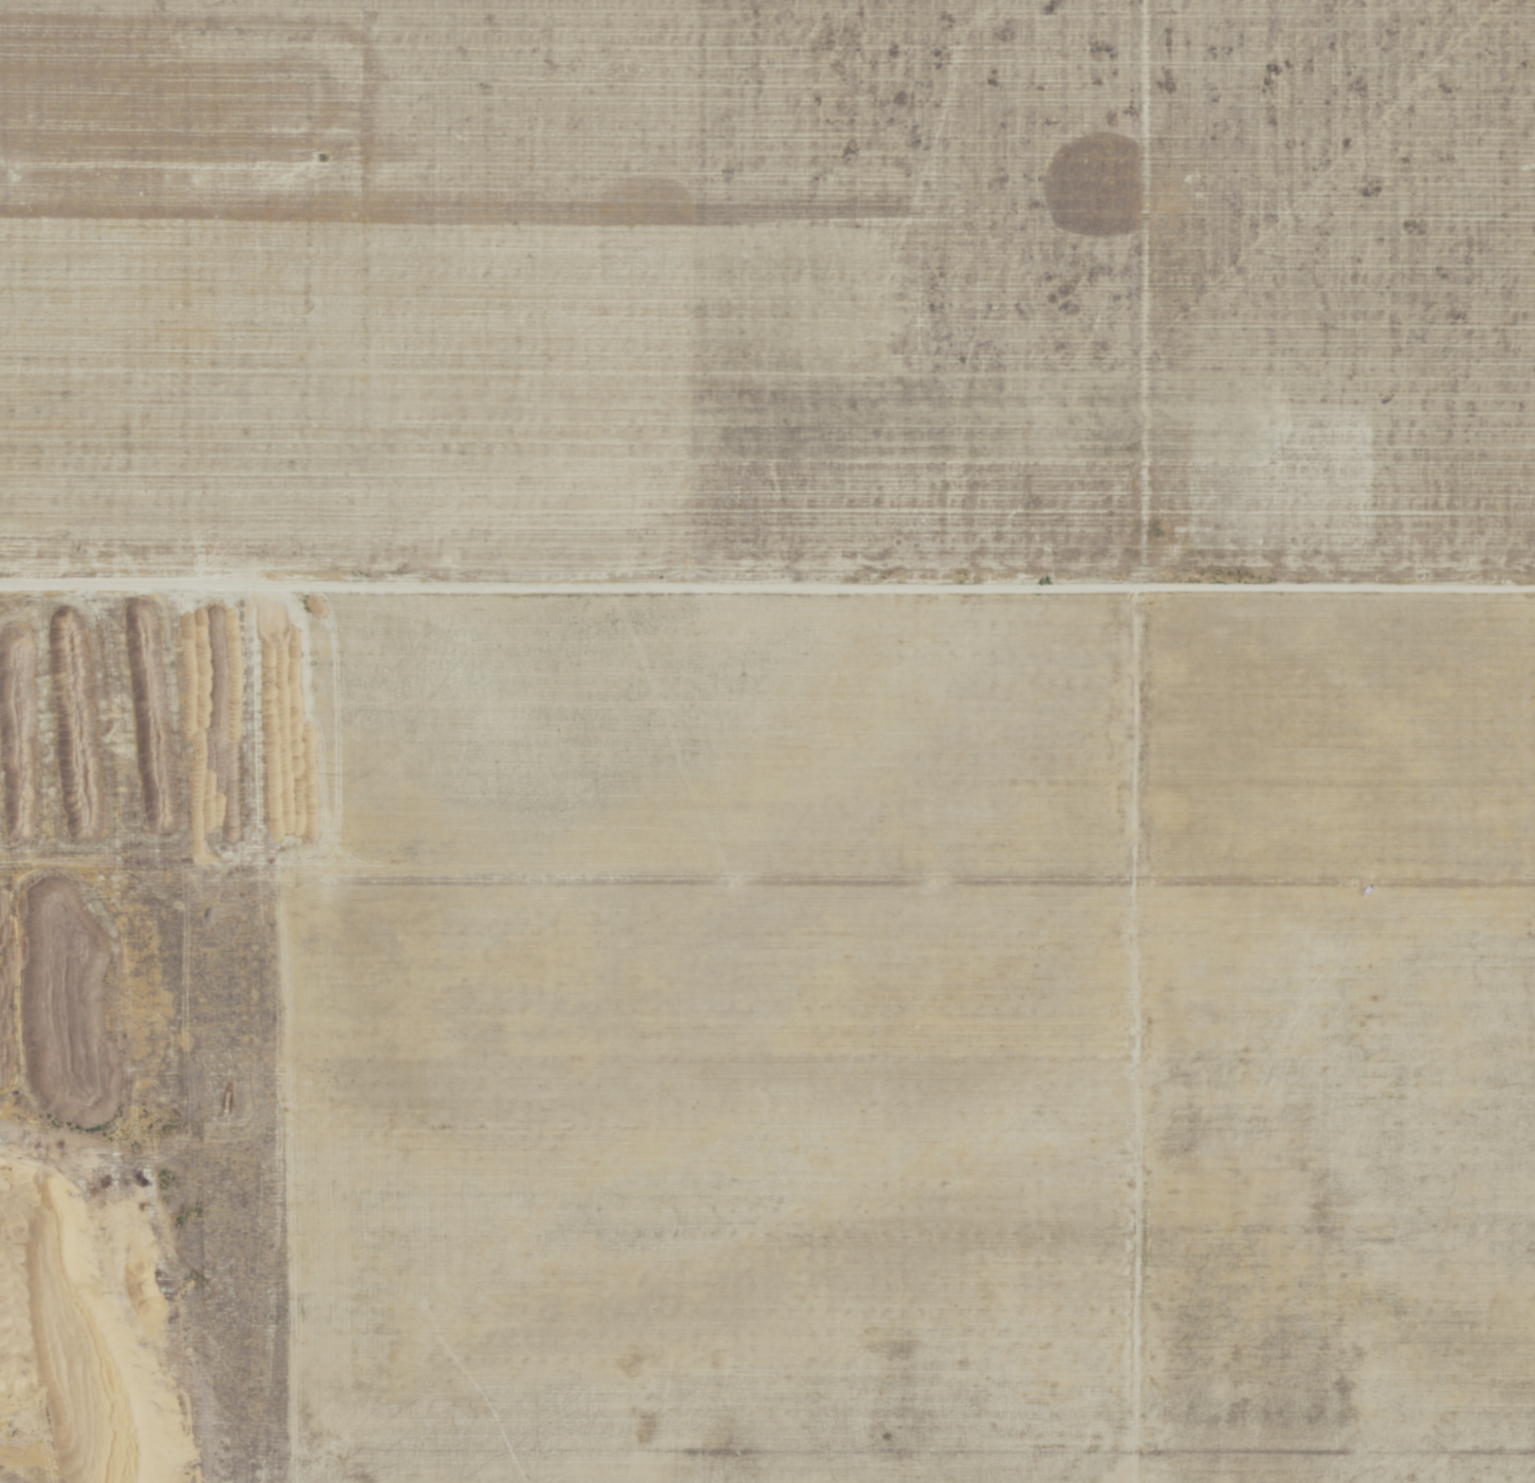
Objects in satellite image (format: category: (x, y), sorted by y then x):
road: (767, 585)

